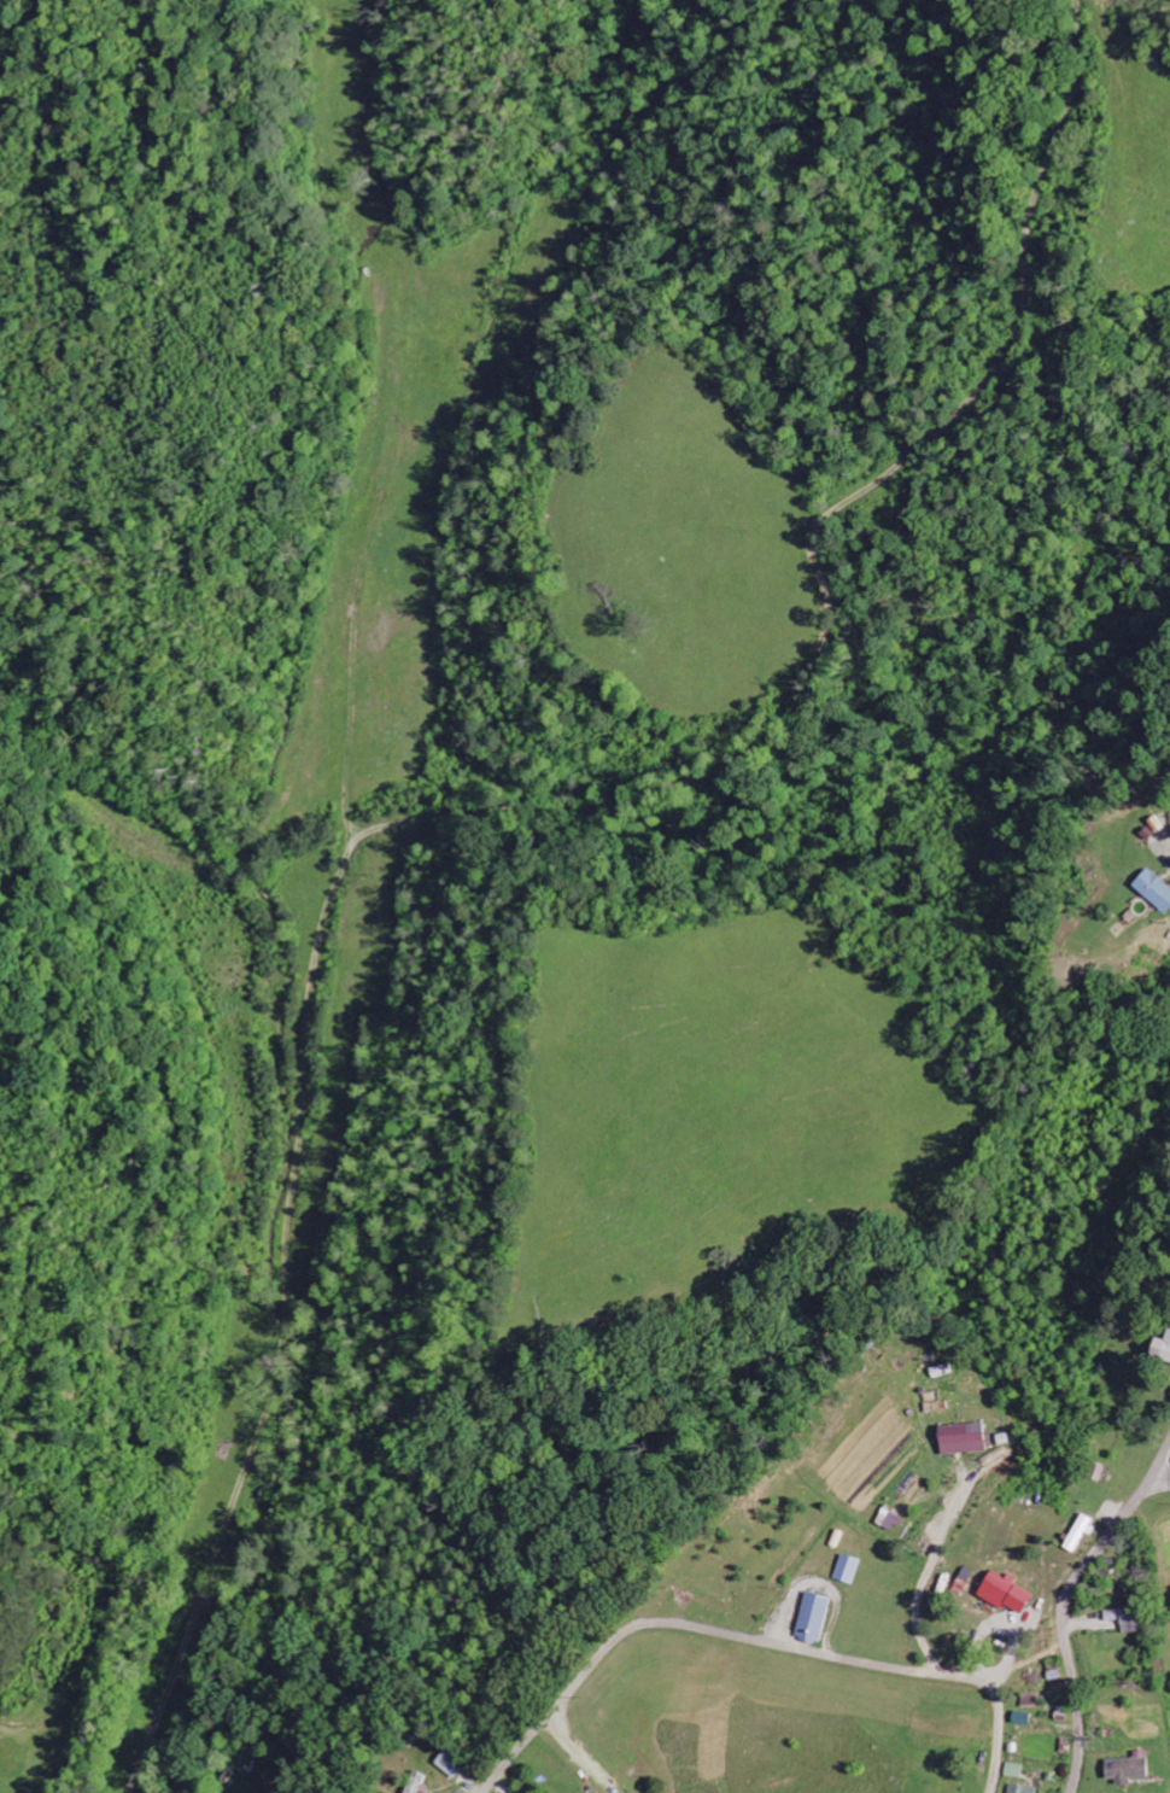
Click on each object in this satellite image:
building: (1153, 889)
road: (352, 1063)
building: (1160, 1348)
building: (940, 1371)
building: (959, 1438)
building: (1095, 1472)
building: (885, 1519)
building: (1077, 1534)
building: (844, 1570)
building: (1002, 1593)
road: (1065, 1602)
building: (809, 1618)
building: (1128, 1619)
road: (754, 1640)
building: (1019, 1718)
building: (447, 1764)
building: (1125, 1768)
building: (1012, 1771)
building: (415, 1783)
building: (1018, 1789)

